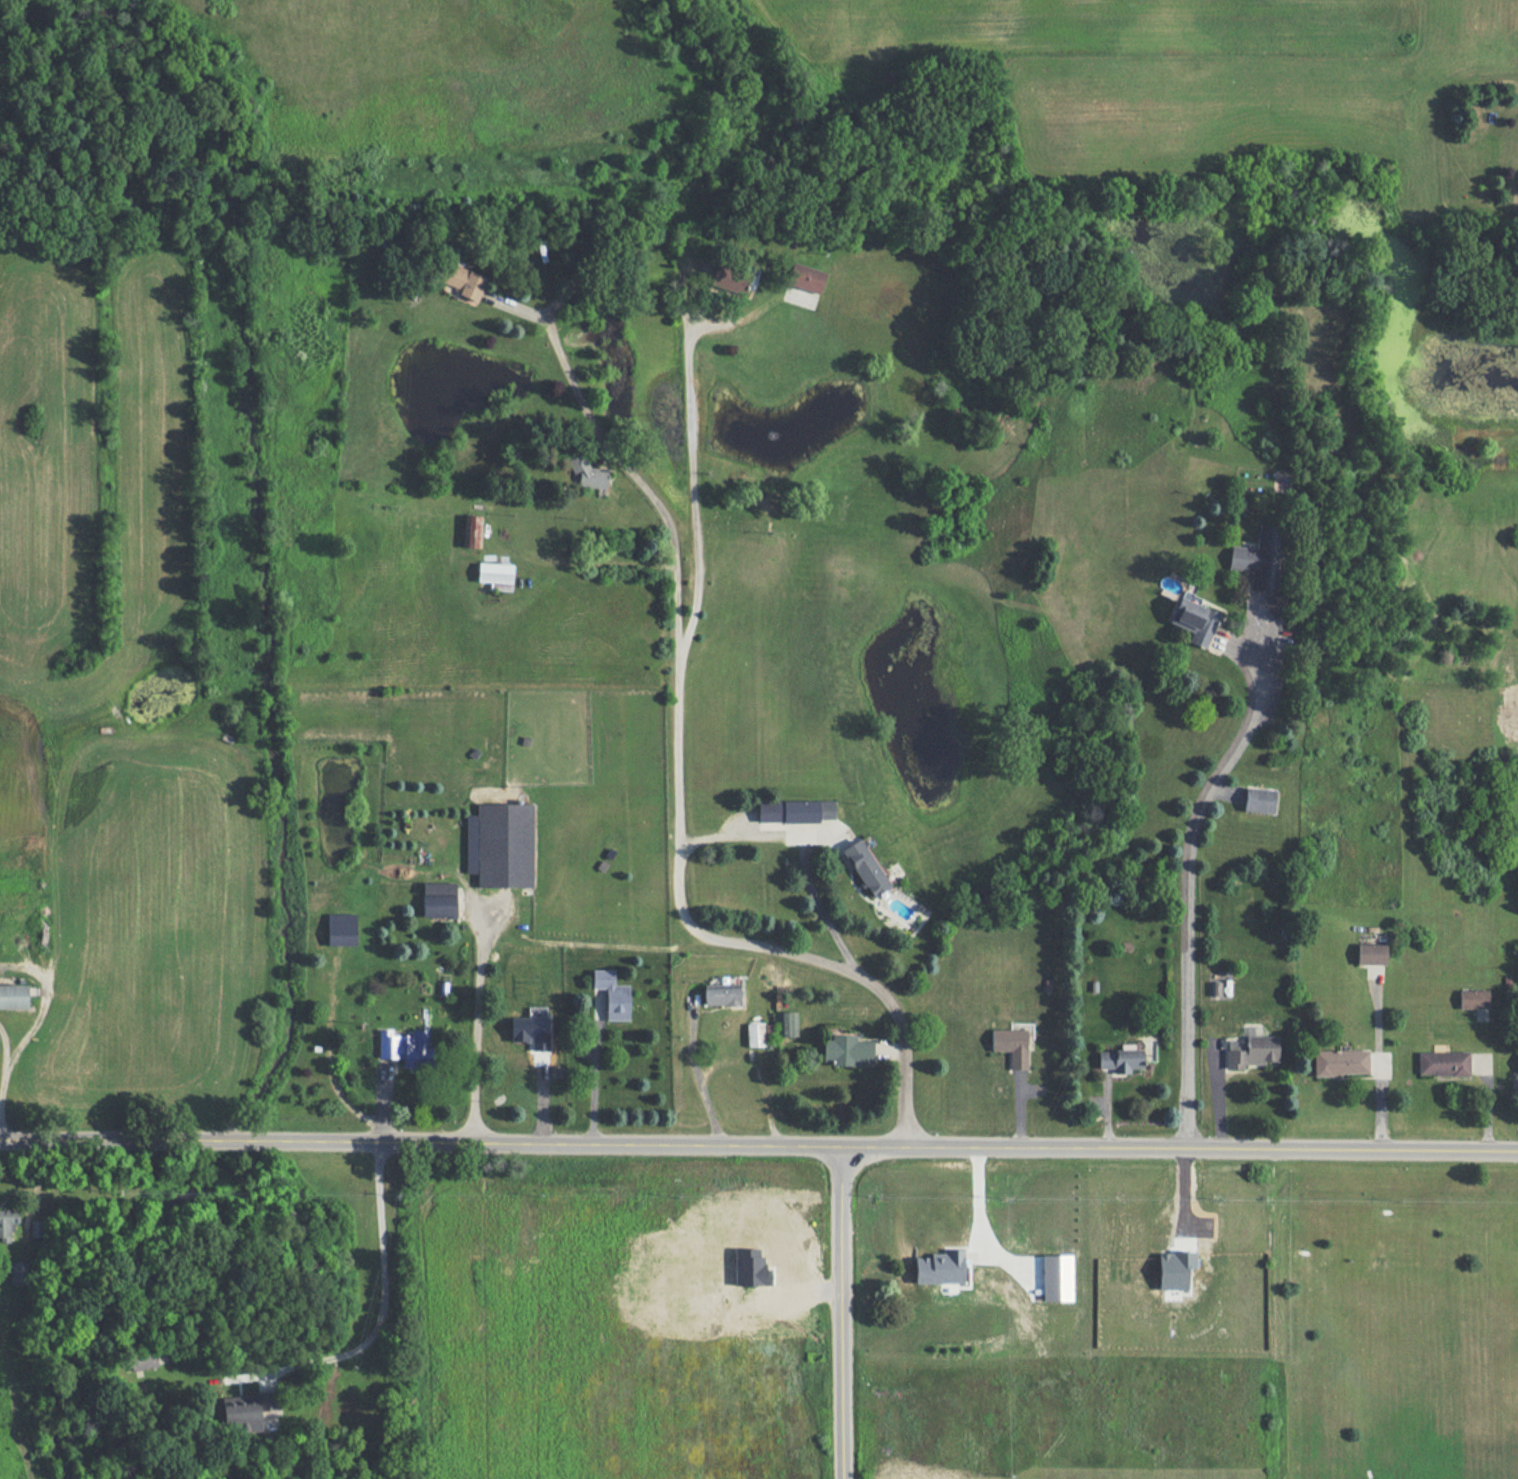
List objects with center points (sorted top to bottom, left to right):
building: (726, 276)
building: (805, 277)
building: (464, 281)
building: (587, 472)
road: (693, 483)
building: (473, 531)
road: (601, 555)
building: (1261, 557)
building: (496, 575)
building: (1194, 621)
road: (675, 788)
building: (1259, 800)
building: (795, 810)
building: (500, 844)
road: (802, 851)
building: (865, 867)
road: (1188, 883)
building: (439, 899)
building: (341, 929)
building: (1371, 954)
building: (612, 994)
building: (721, 994)
building: (13, 996)
building: (1473, 998)
building: (789, 1023)
road: (478, 1025)
building: (532, 1031)
building: (755, 1034)
building: (1011, 1045)
building: (405, 1047)
building: (848, 1050)
building: (1252, 1051)
building: (1121, 1059)
road: (3, 1060)
building: (1340, 1062)
building: (1443, 1063)
building: (1517, 1066)
road: (597, 1072)
road: (706, 1086)
road: (118, 1139)
road: (711, 1144)
road: (1352, 1148)
building: (7, 1223)
building: (940, 1267)
building: (750, 1268)
building: (1175, 1269)
building: (19, 1272)
building: (1056, 1277)
park: (1515, 1285)
road: (382, 1295)
road: (843, 1312)
building: (143, 1360)
building: (248, 1409)
building: (269, 1415)

